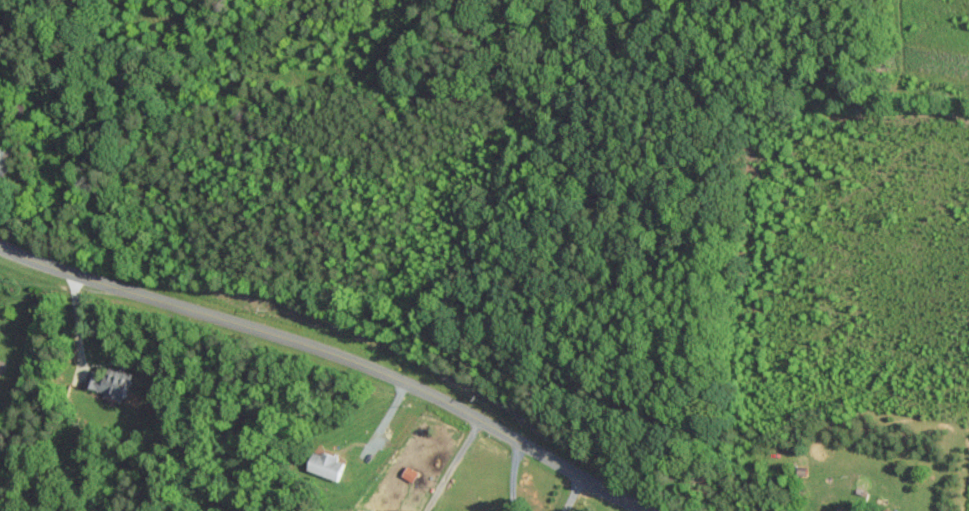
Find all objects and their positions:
building: (4, 160)
road: (74, 314)
road: (337, 357)
building: (109, 380)
building: (326, 464)
road: (451, 465)
building: (410, 473)
road: (572, 491)
building: (845, 509)
building: (888, 510)

